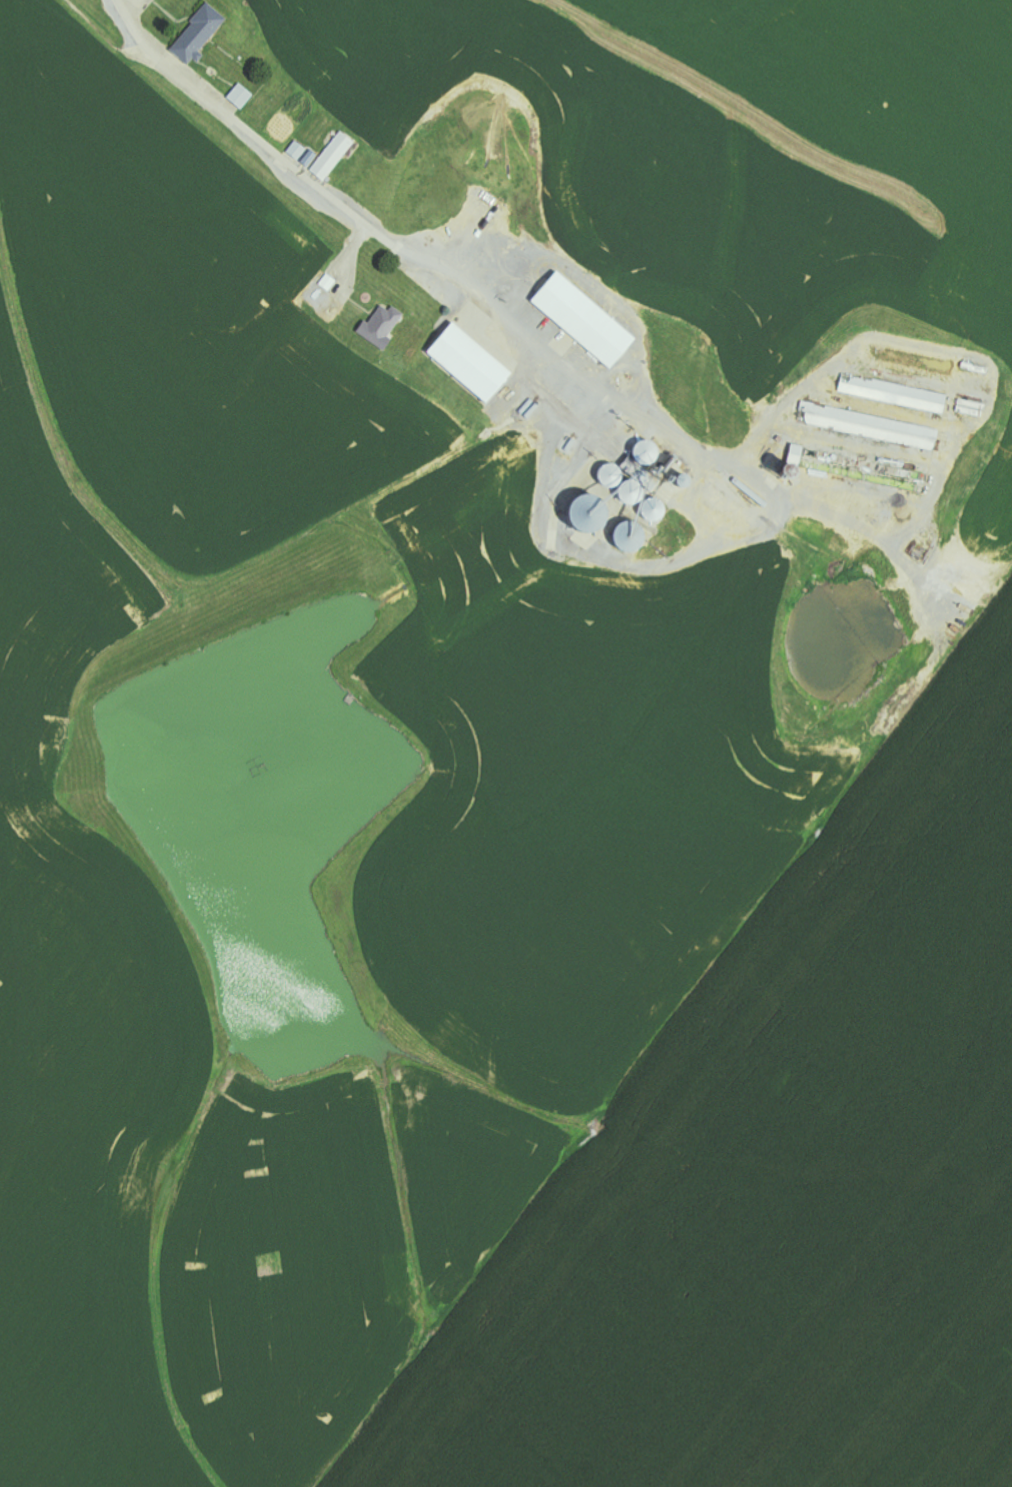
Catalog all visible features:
building: (202, 34)
building: (243, 96)
building: (325, 155)
road: (333, 226)
building: (589, 321)
building: (385, 326)
building: (476, 363)
building: (896, 394)
building: (874, 427)

